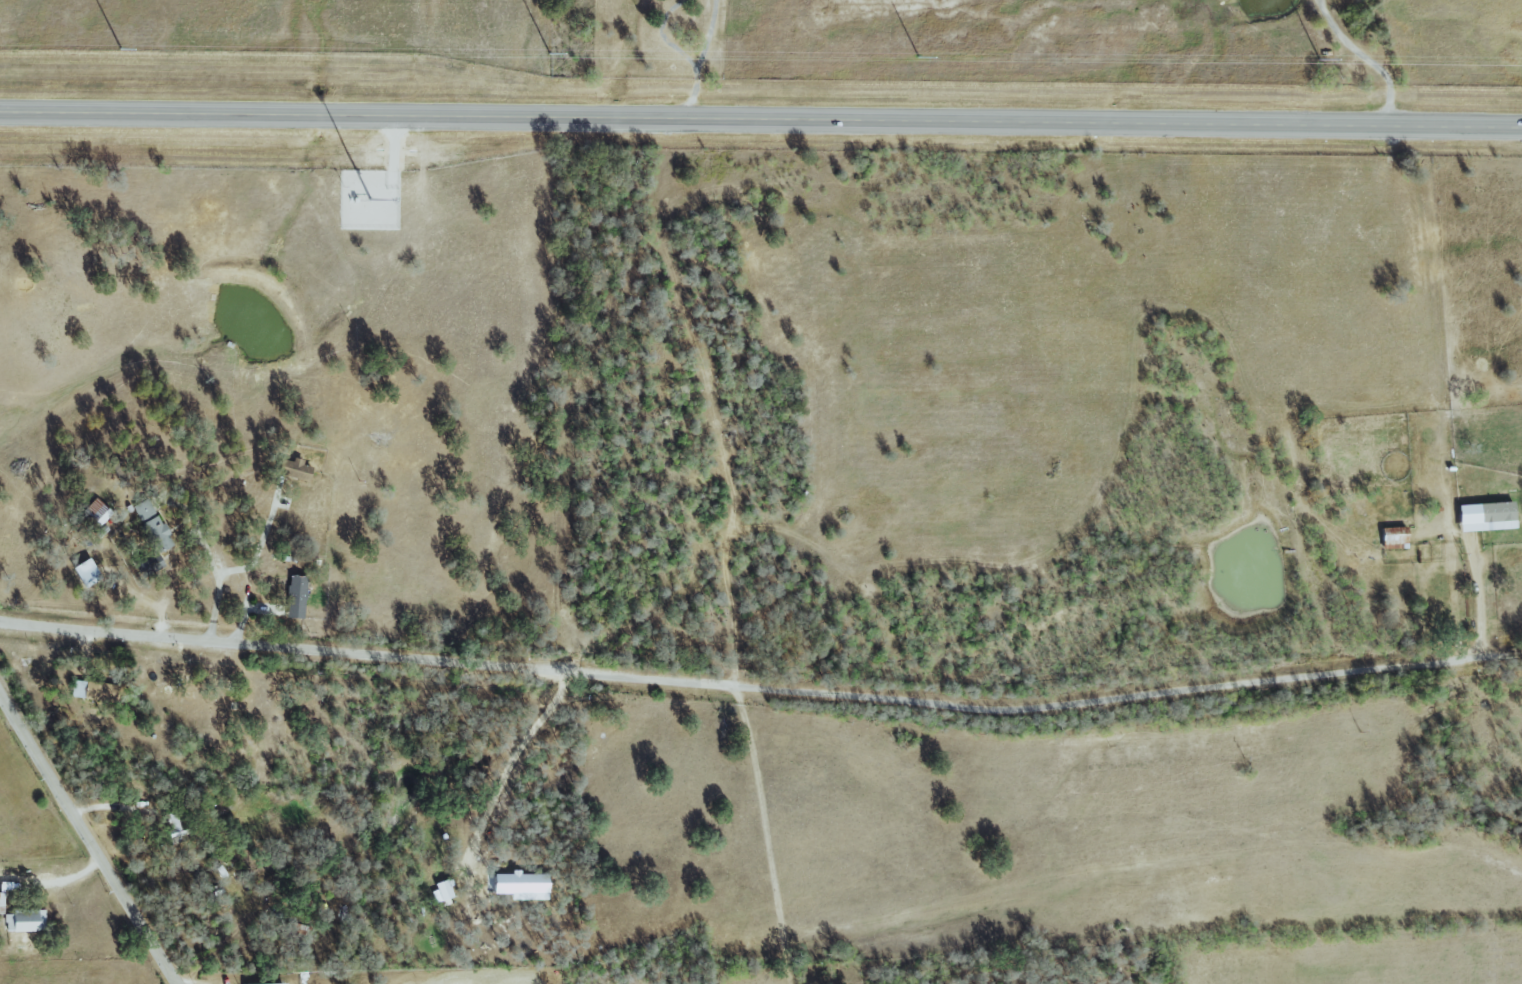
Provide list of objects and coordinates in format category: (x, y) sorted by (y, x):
road: (705, 33)
road: (658, 36)
power tower: (125, 50)
power tower: (552, 54)
power tower: (924, 57)
road: (1363, 60)
power tower: (1324, 62)
road: (688, 92)
road: (761, 120)
building: (292, 470)
building: (92, 511)
building: (1479, 516)
building: (1388, 537)
road: (258, 542)
road: (208, 559)
building: (81, 572)
building: (291, 597)
road: (1473, 600)
road: (244, 609)
road: (1510, 657)
road: (749, 687)
building: (93, 691)
road: (506, 767)
road: (117, 806)
road: (89, 838)
road: (65, 880)
building: (437, 891)
building: (18, 922)
building: (270, 983)

